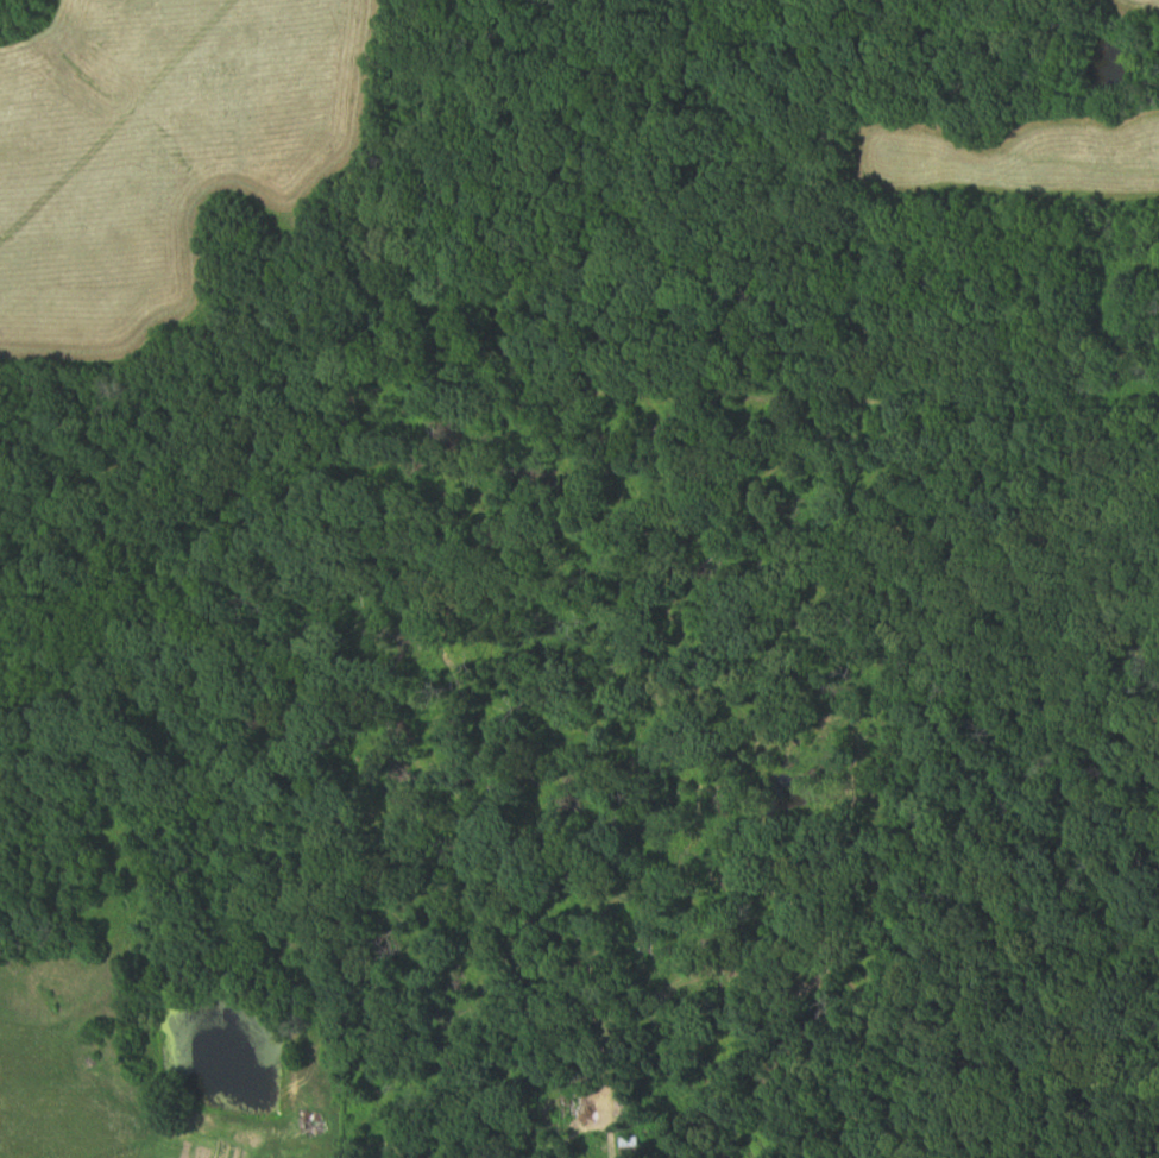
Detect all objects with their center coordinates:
building: (634, 1146)

